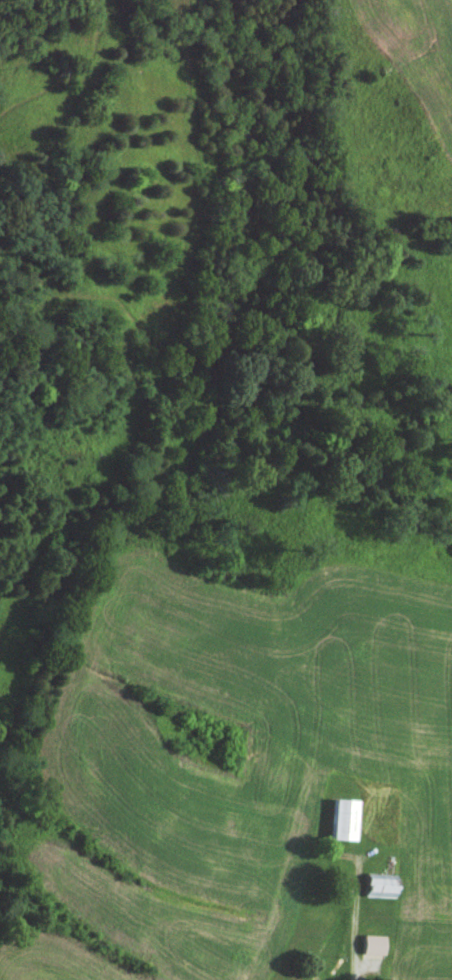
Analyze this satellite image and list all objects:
building: (375, 890)
building: (369, 950)

